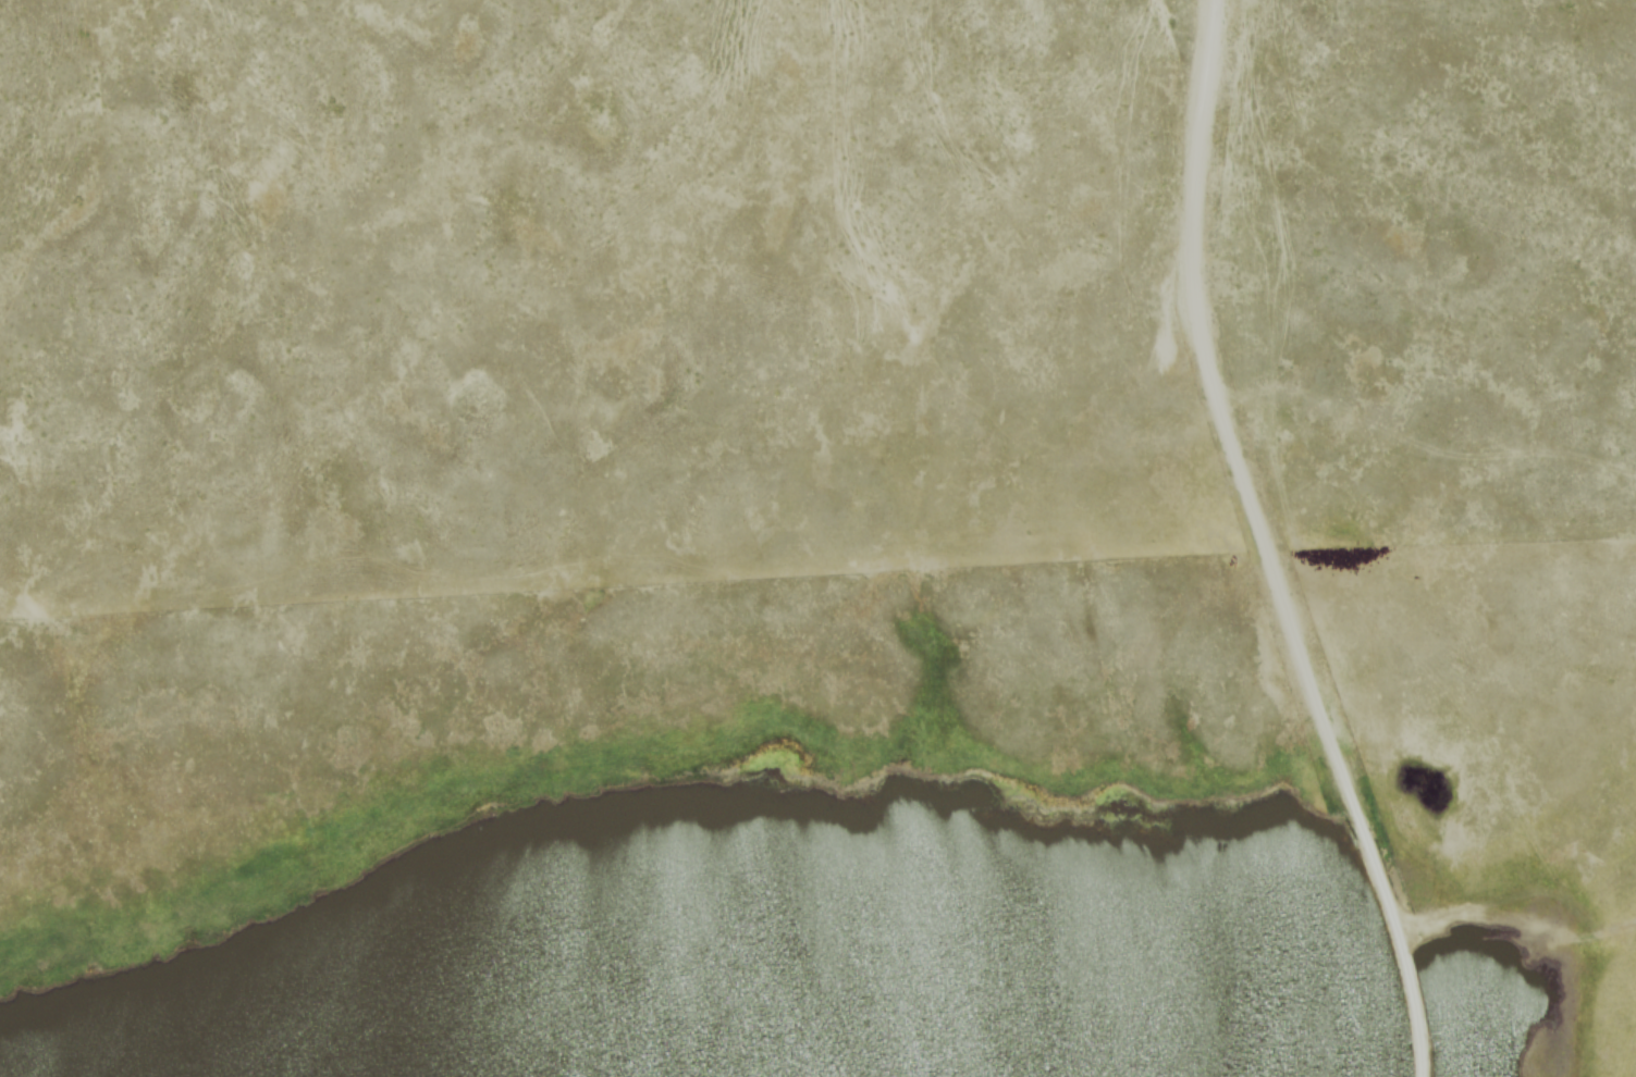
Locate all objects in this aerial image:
road: (1266, 544)

